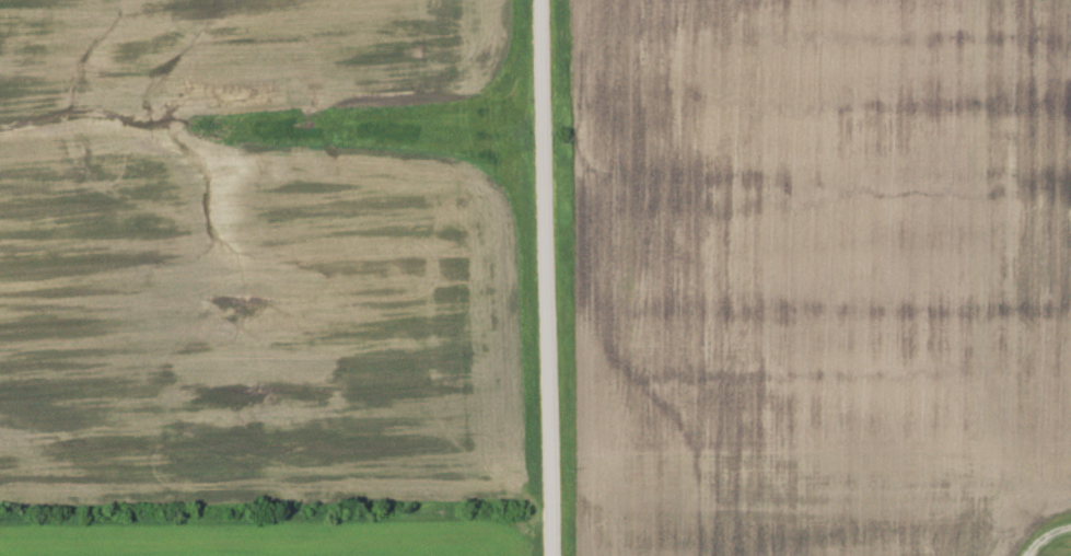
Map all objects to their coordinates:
road: (549, 277)

